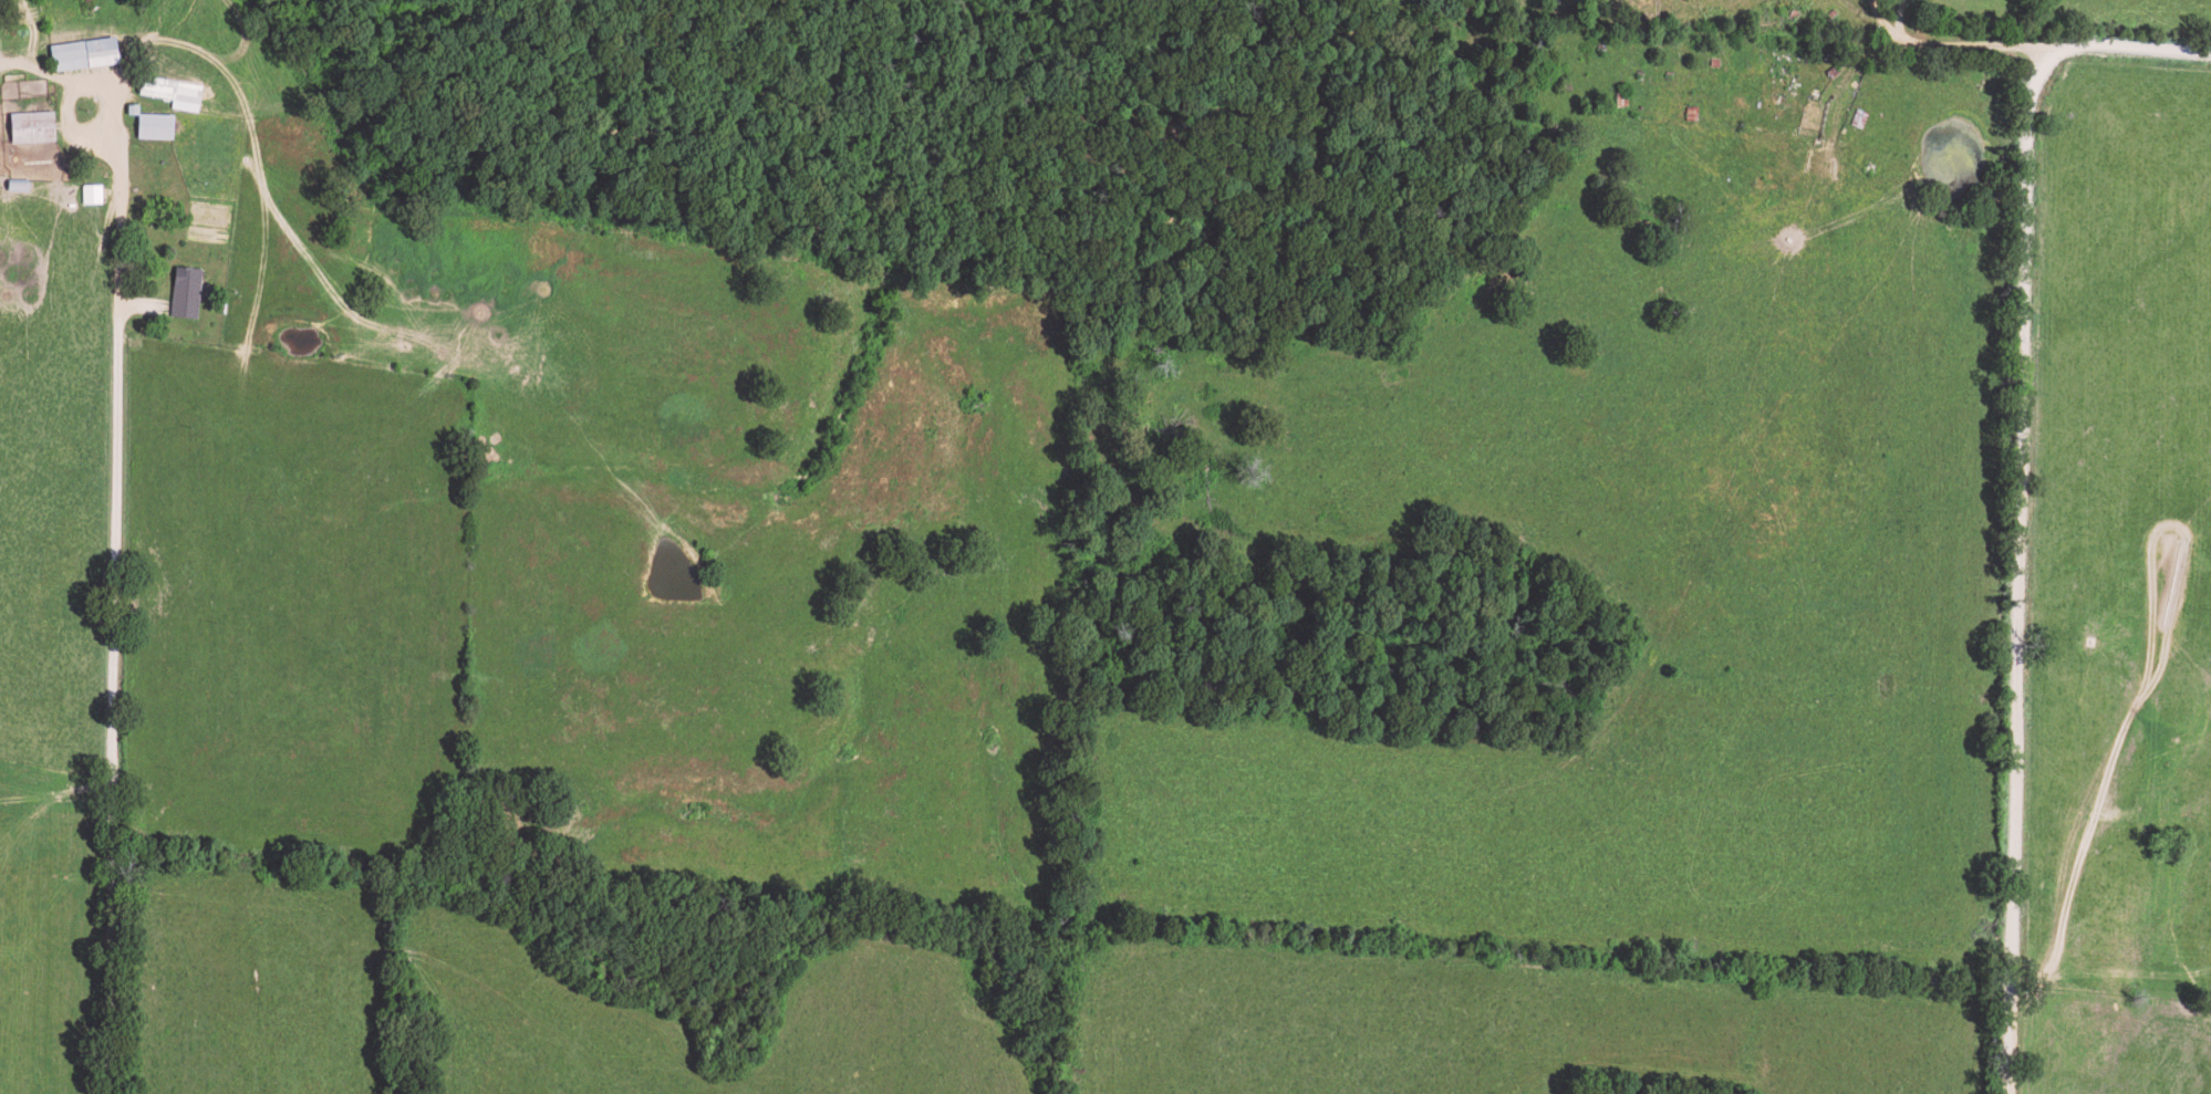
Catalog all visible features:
building: (89, 53)
building: (175, 92)
building: (35, 126)
building: (158, 126)
building: (94, 195)
building: (179, 292)
road: (2072, 519)
road: (76, 661)

